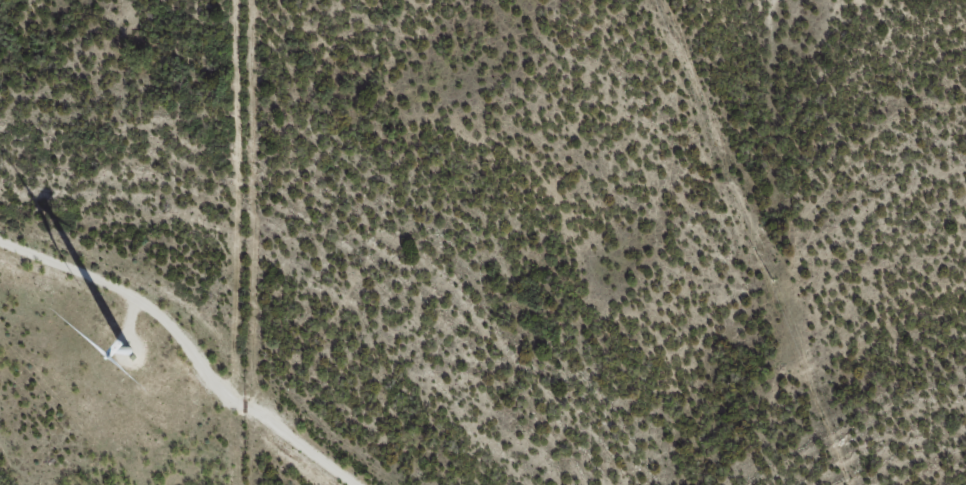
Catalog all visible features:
power tower: (770, 282)
wind turbine: (129, 356)

